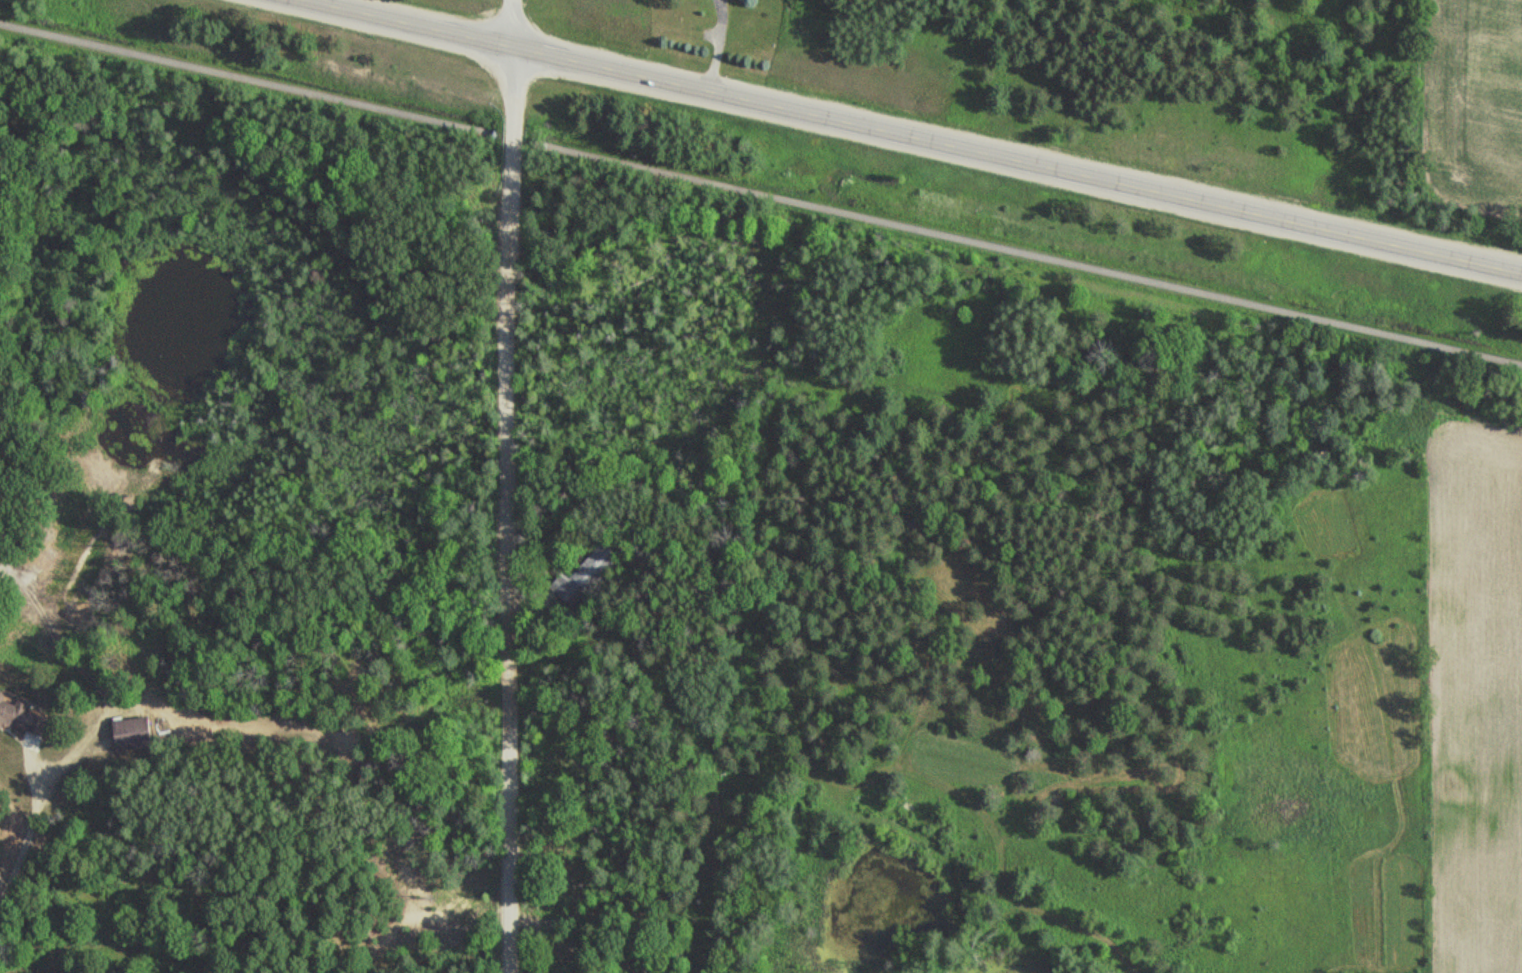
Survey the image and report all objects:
road: (239, 78)
road: (913, 137)
road: (1034, 258)
road: (511, 486)
building: (23, 714)
building: (136, 733)

